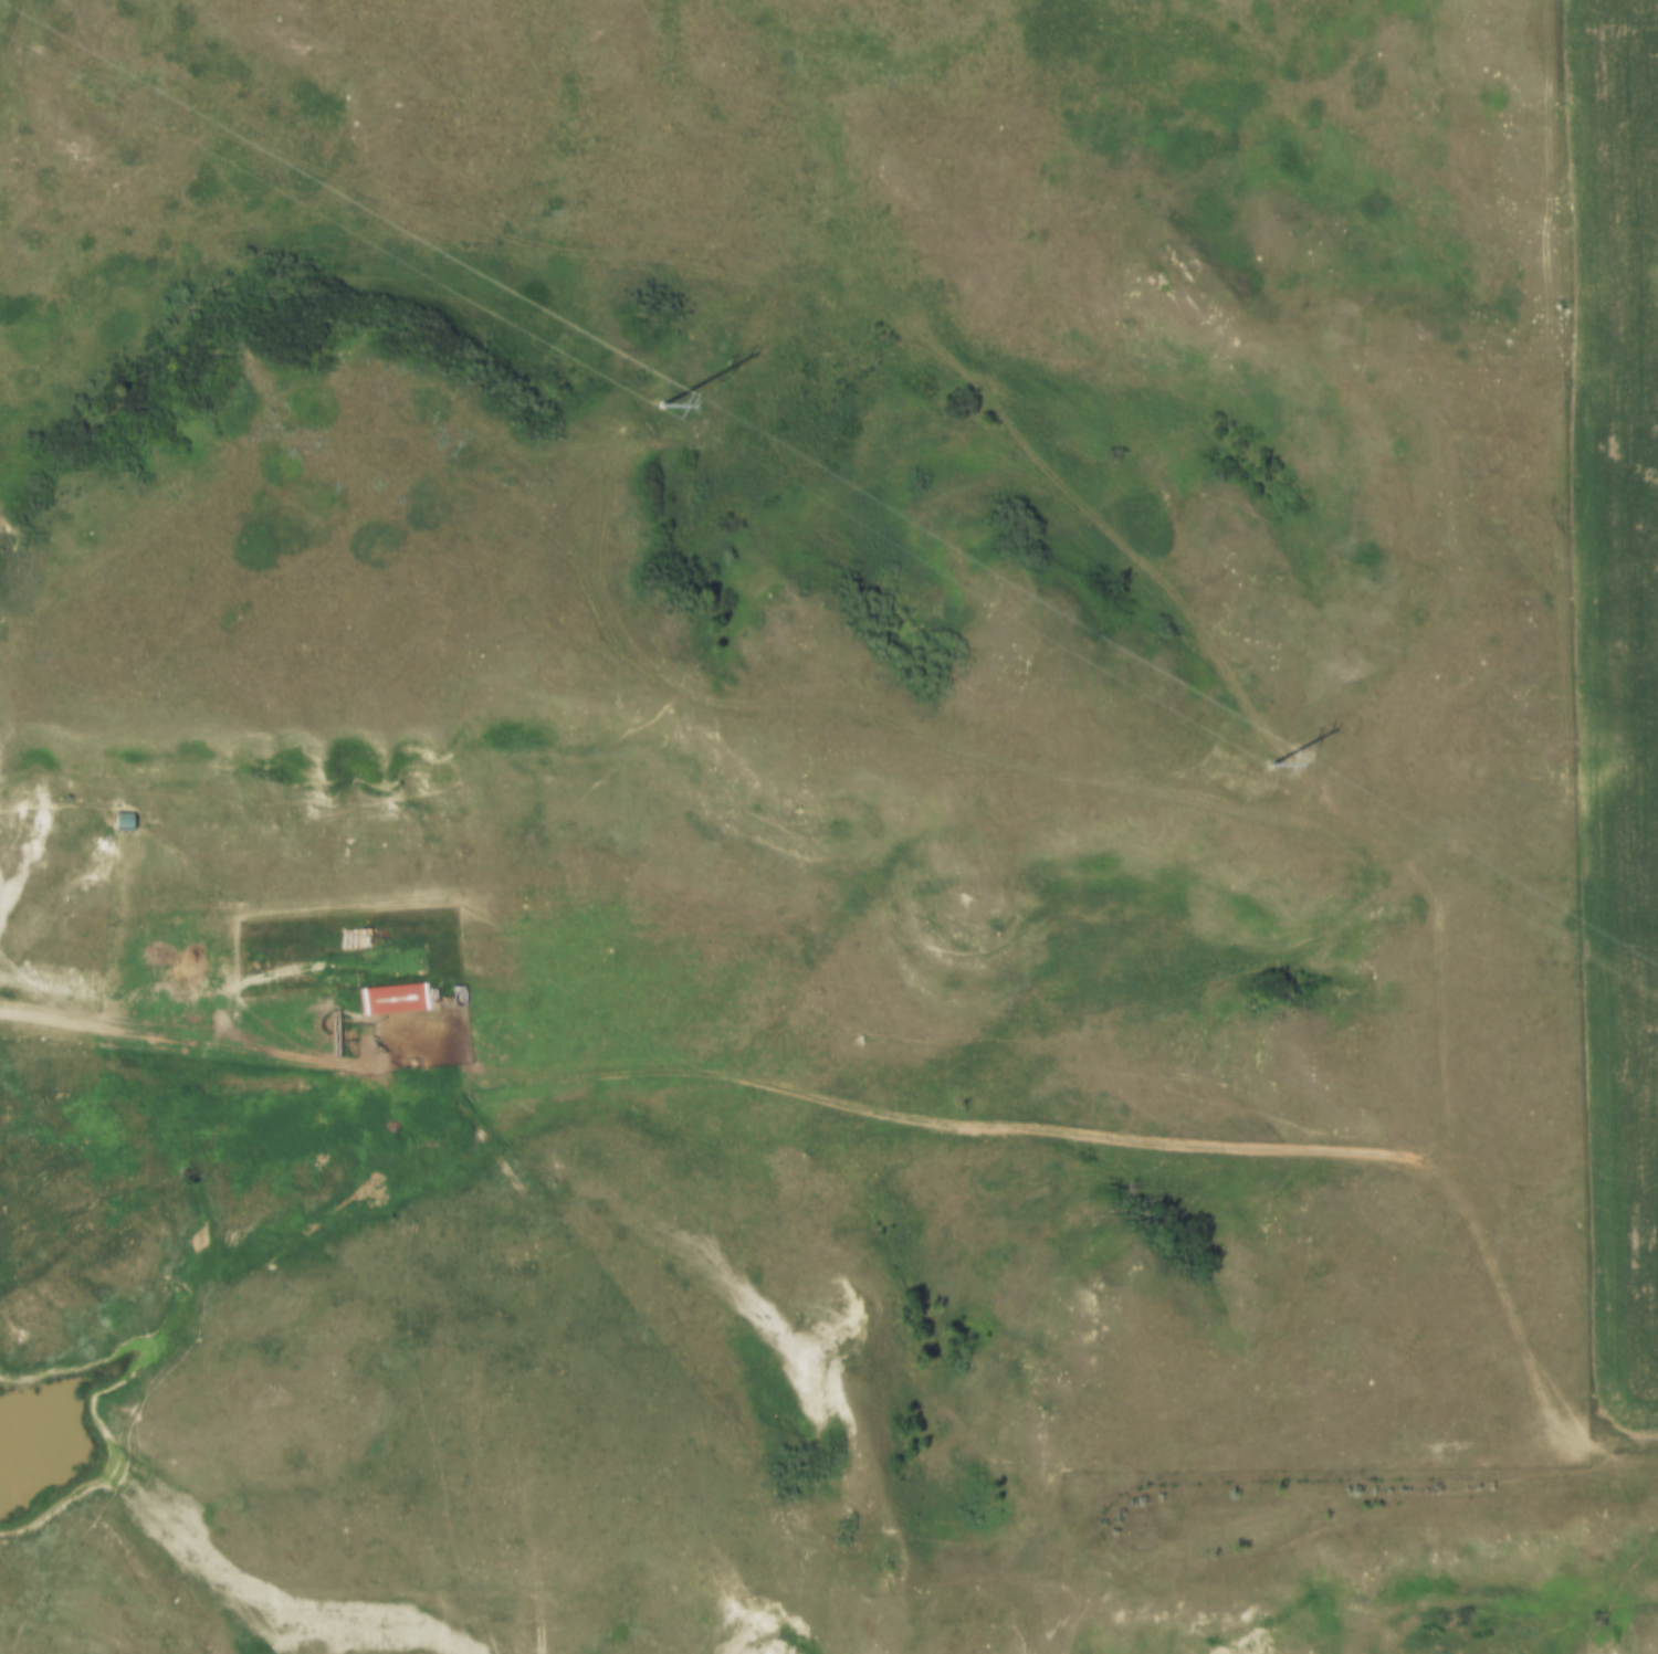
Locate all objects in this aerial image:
power tower: (654, 401)
power tower: (1276, 754)
building: (114, 822)
building: (453, 994)
building: (388, 998)
road: (224, 1042)
road: (1057, 1130)
road: (547, 1350)

